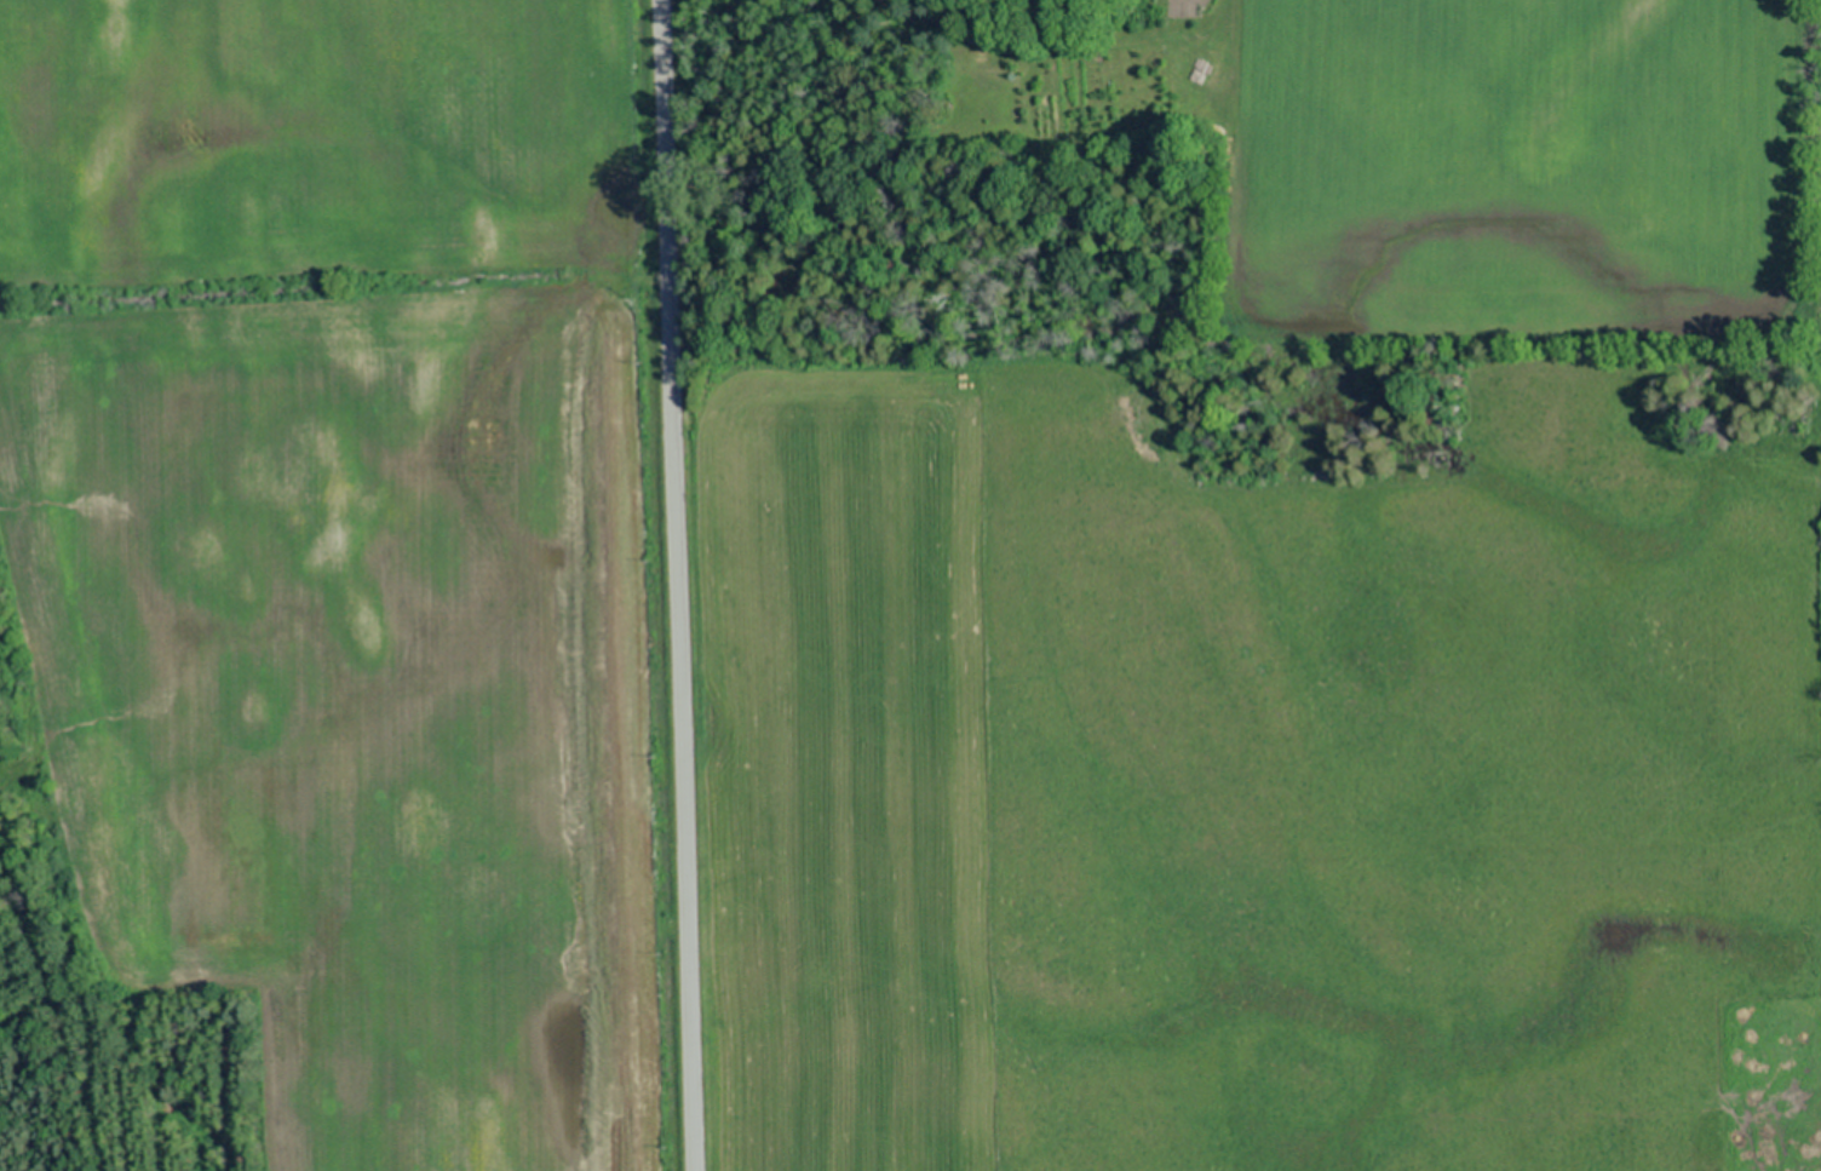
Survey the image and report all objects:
road: (679, 585)
quarry: (334, 590)

